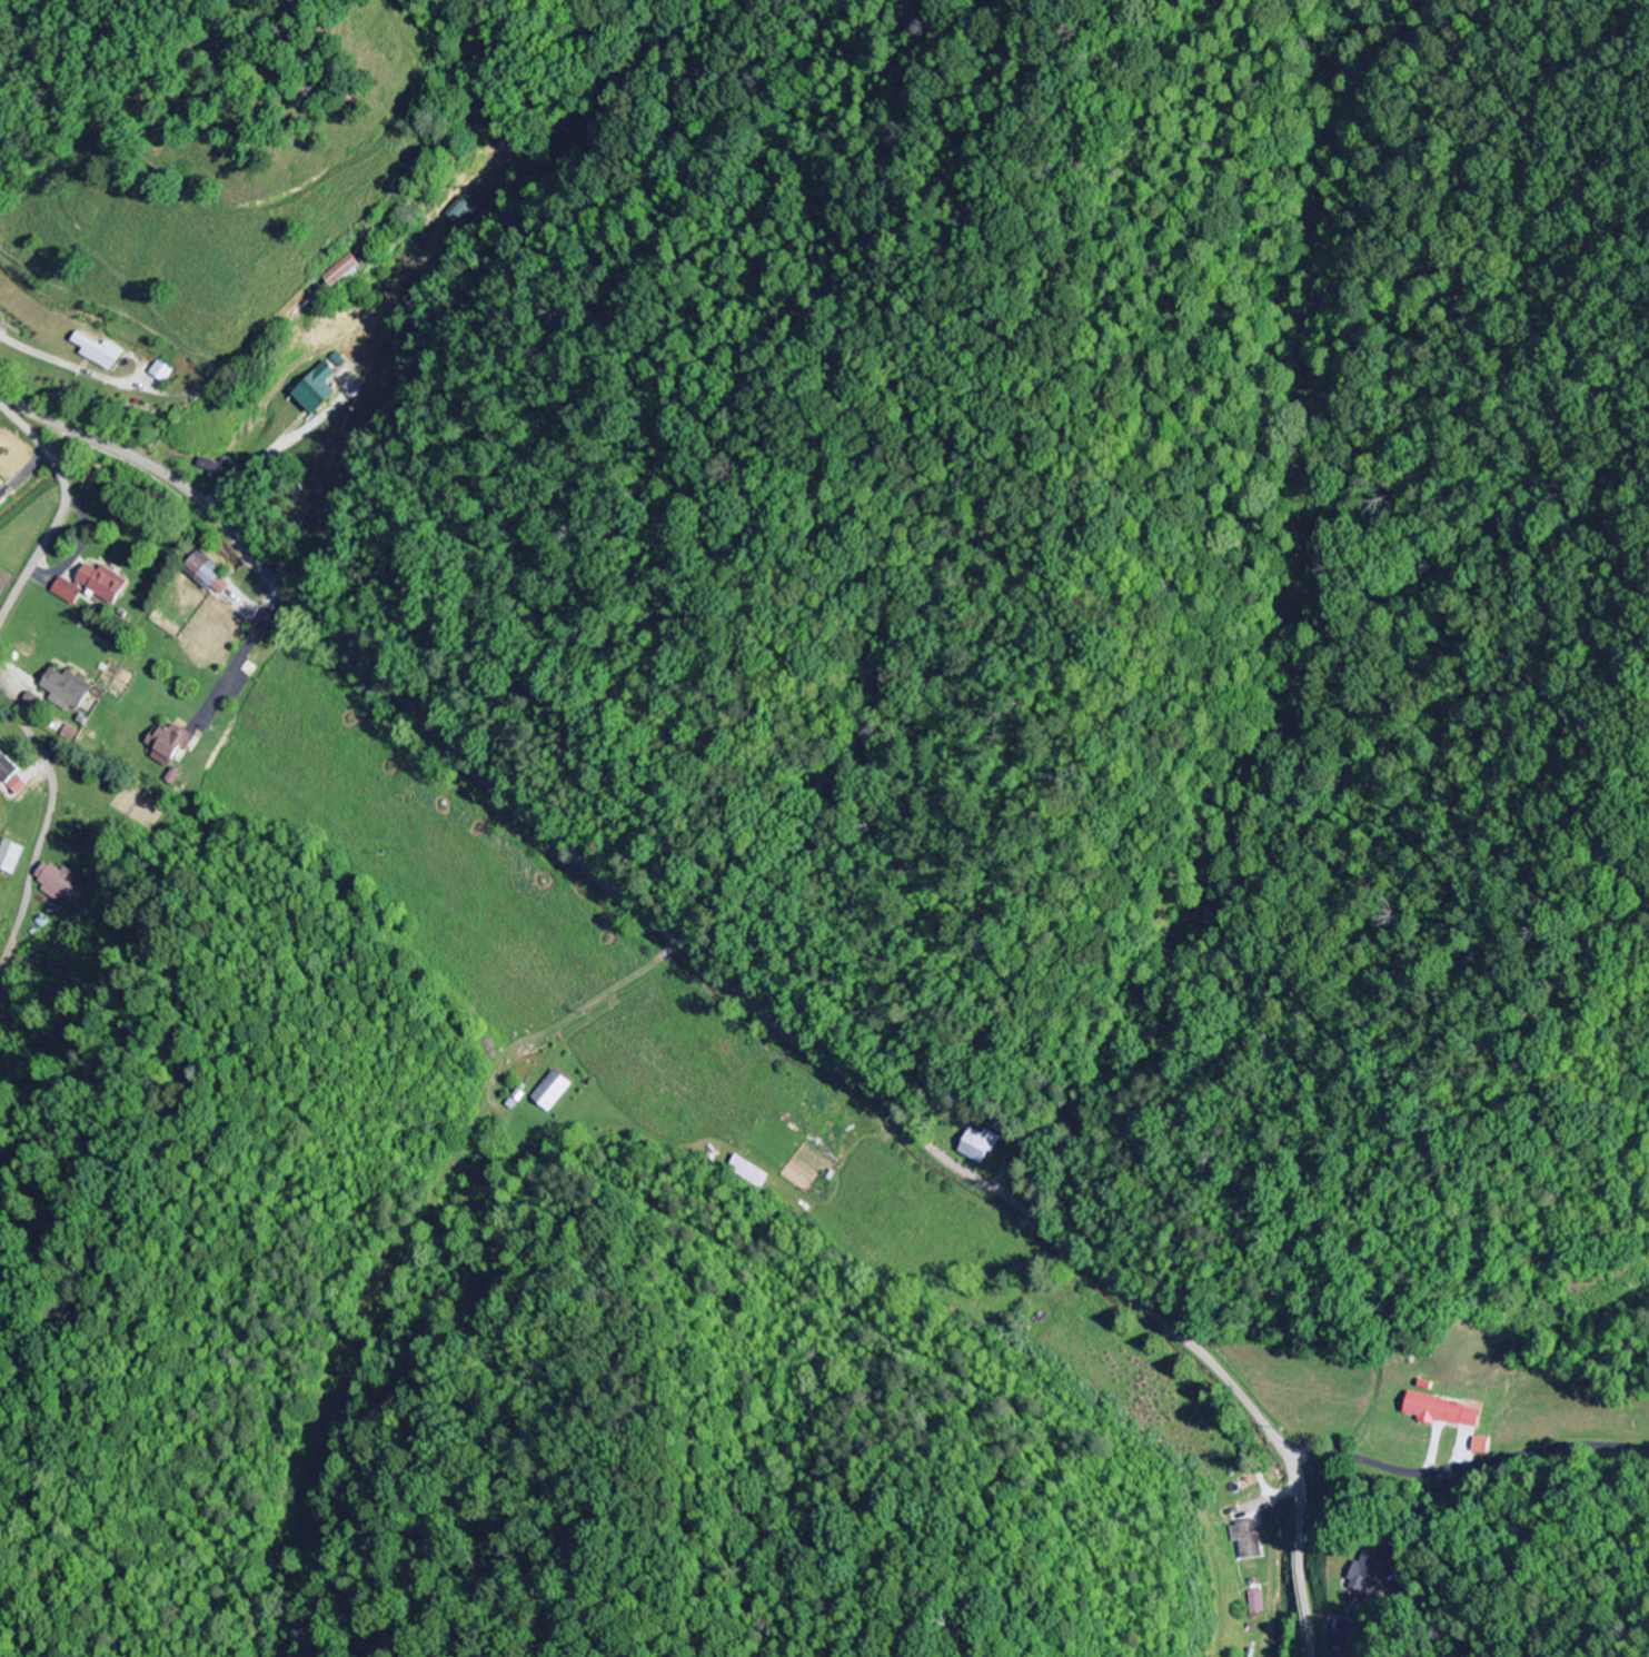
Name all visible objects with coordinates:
building: (346, 271)
building: (97, 351)
building: (160, 371)
building: (320, 389)
building: (0, 488)
building: (1, 500)
road: (62, 509)
building: (207, 575)
building: (93, 586)
road: (248, 644)
building: (68, 688)
building: (170, 744)
building: (11, 775)
road: (62, 822)
building: (11, 857)
building: (61, 884)
road: (237, 939)
road: (733, 973)
building: (554, 1092)
building: (980, 1147)
building: (749, 1172)
building: (1443, 1411)
building: (1482, 1446)
road: (1464, 1466)
building: (1249, 1539)
building: (1377, 1565)
building: (1254, 1601)

